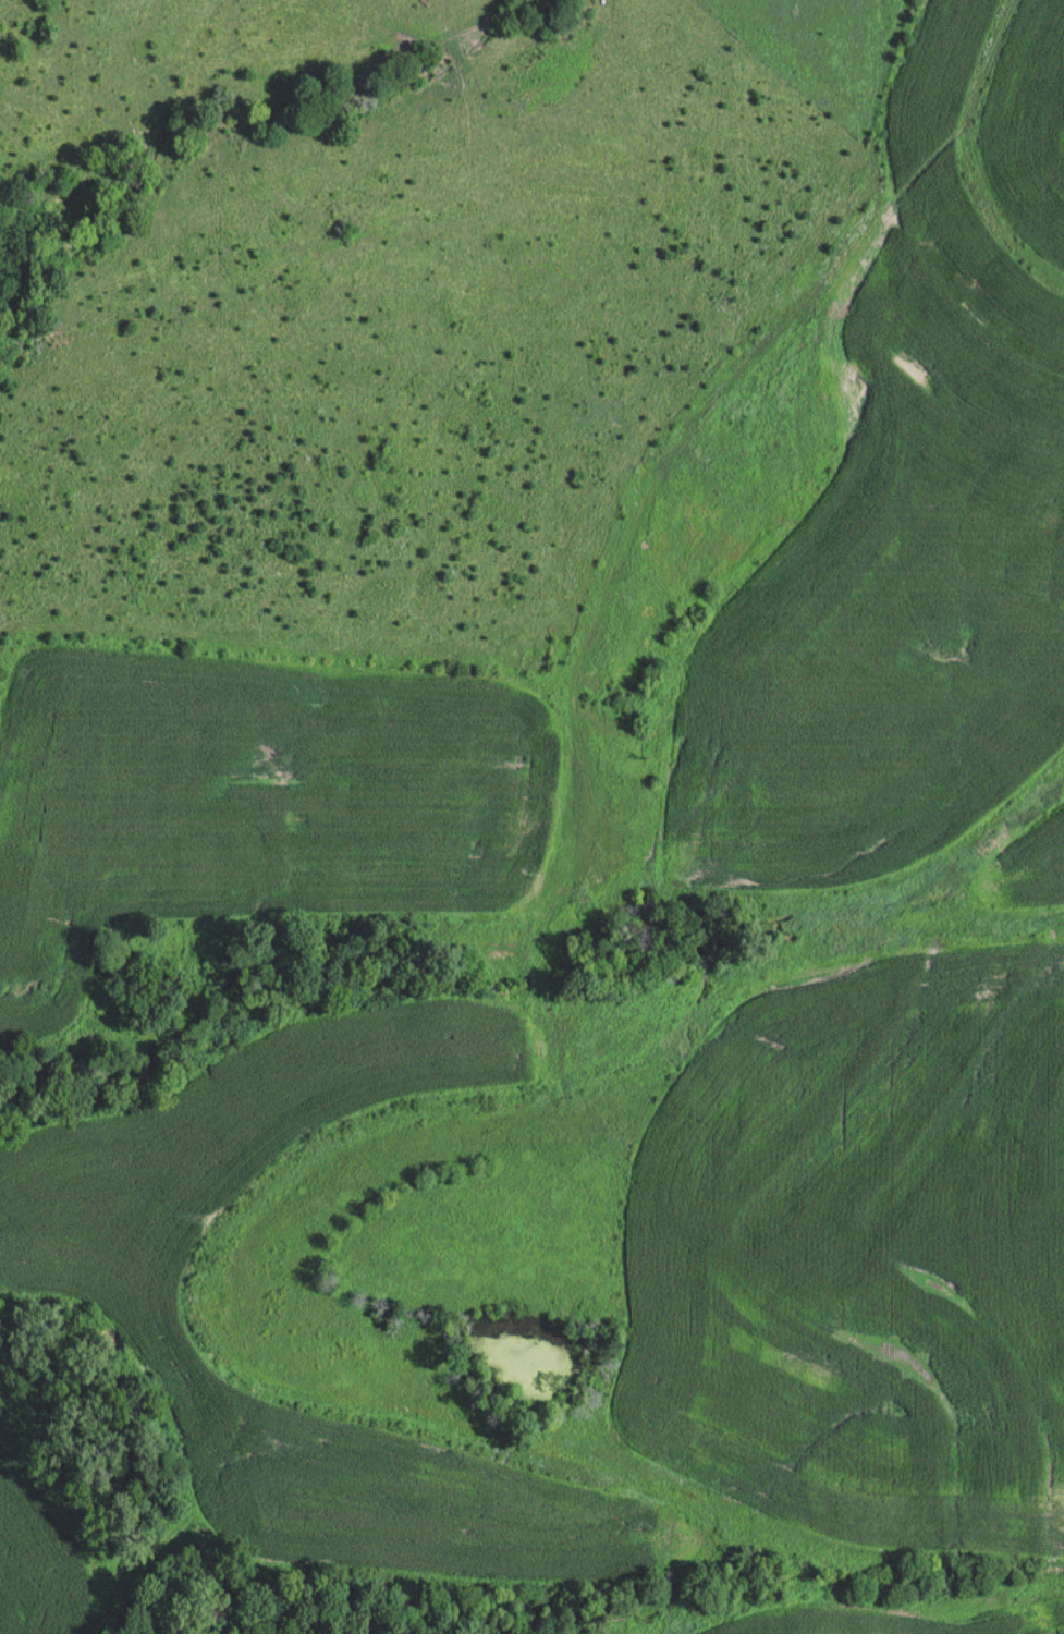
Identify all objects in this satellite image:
road: (538, 912)

